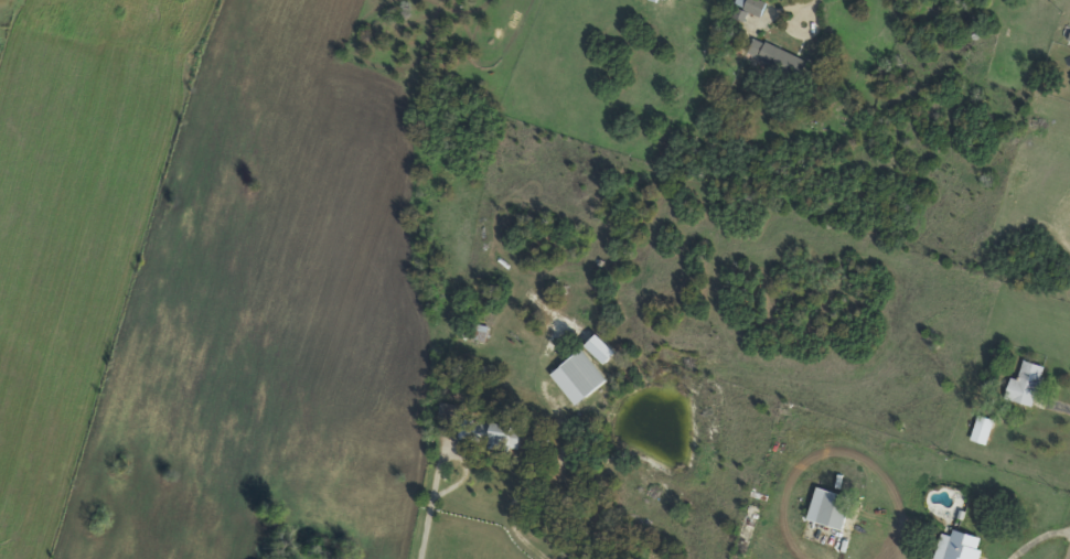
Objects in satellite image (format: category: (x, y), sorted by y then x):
building: (665, 1)
building: (750, 10)
road: (803, 11)
building: (782, 62)
building: (607, 352)
building: (588, 375)
building: (1030, 385)
building: (986, 430)
building: (494, 436)
road: (458, 453)
road: (525, 485)
building: (834, 508)
road: (422, 528)
building: (963, 546)

